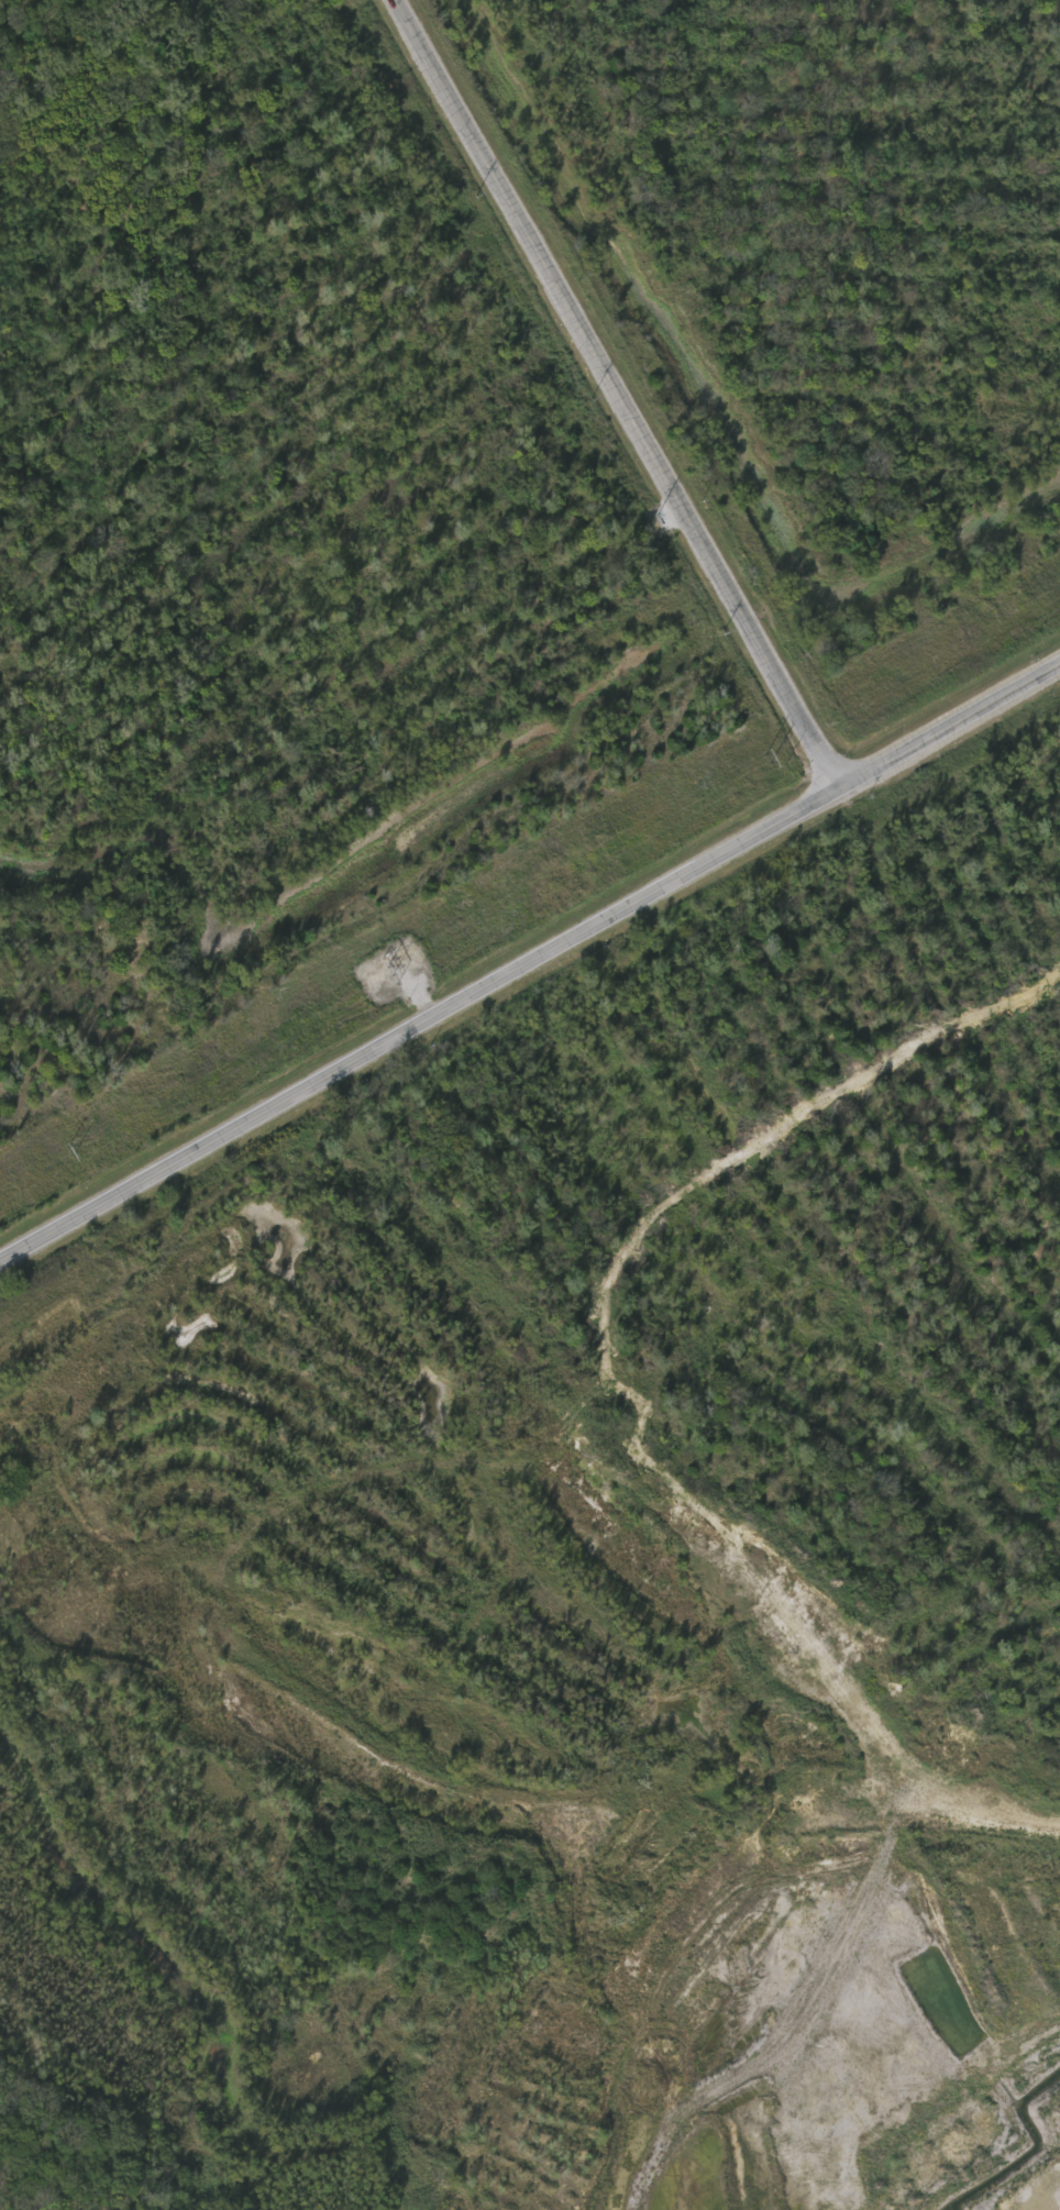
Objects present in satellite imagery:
crop: (811, 274)
road: (621, 393)
crop: (294, 542)
road: (952, 726)
power tower: (772, 756)
power tower: (390, 971)
road: (422, 1025)
power tower: (69, 1152)
road: (389, 1745)

